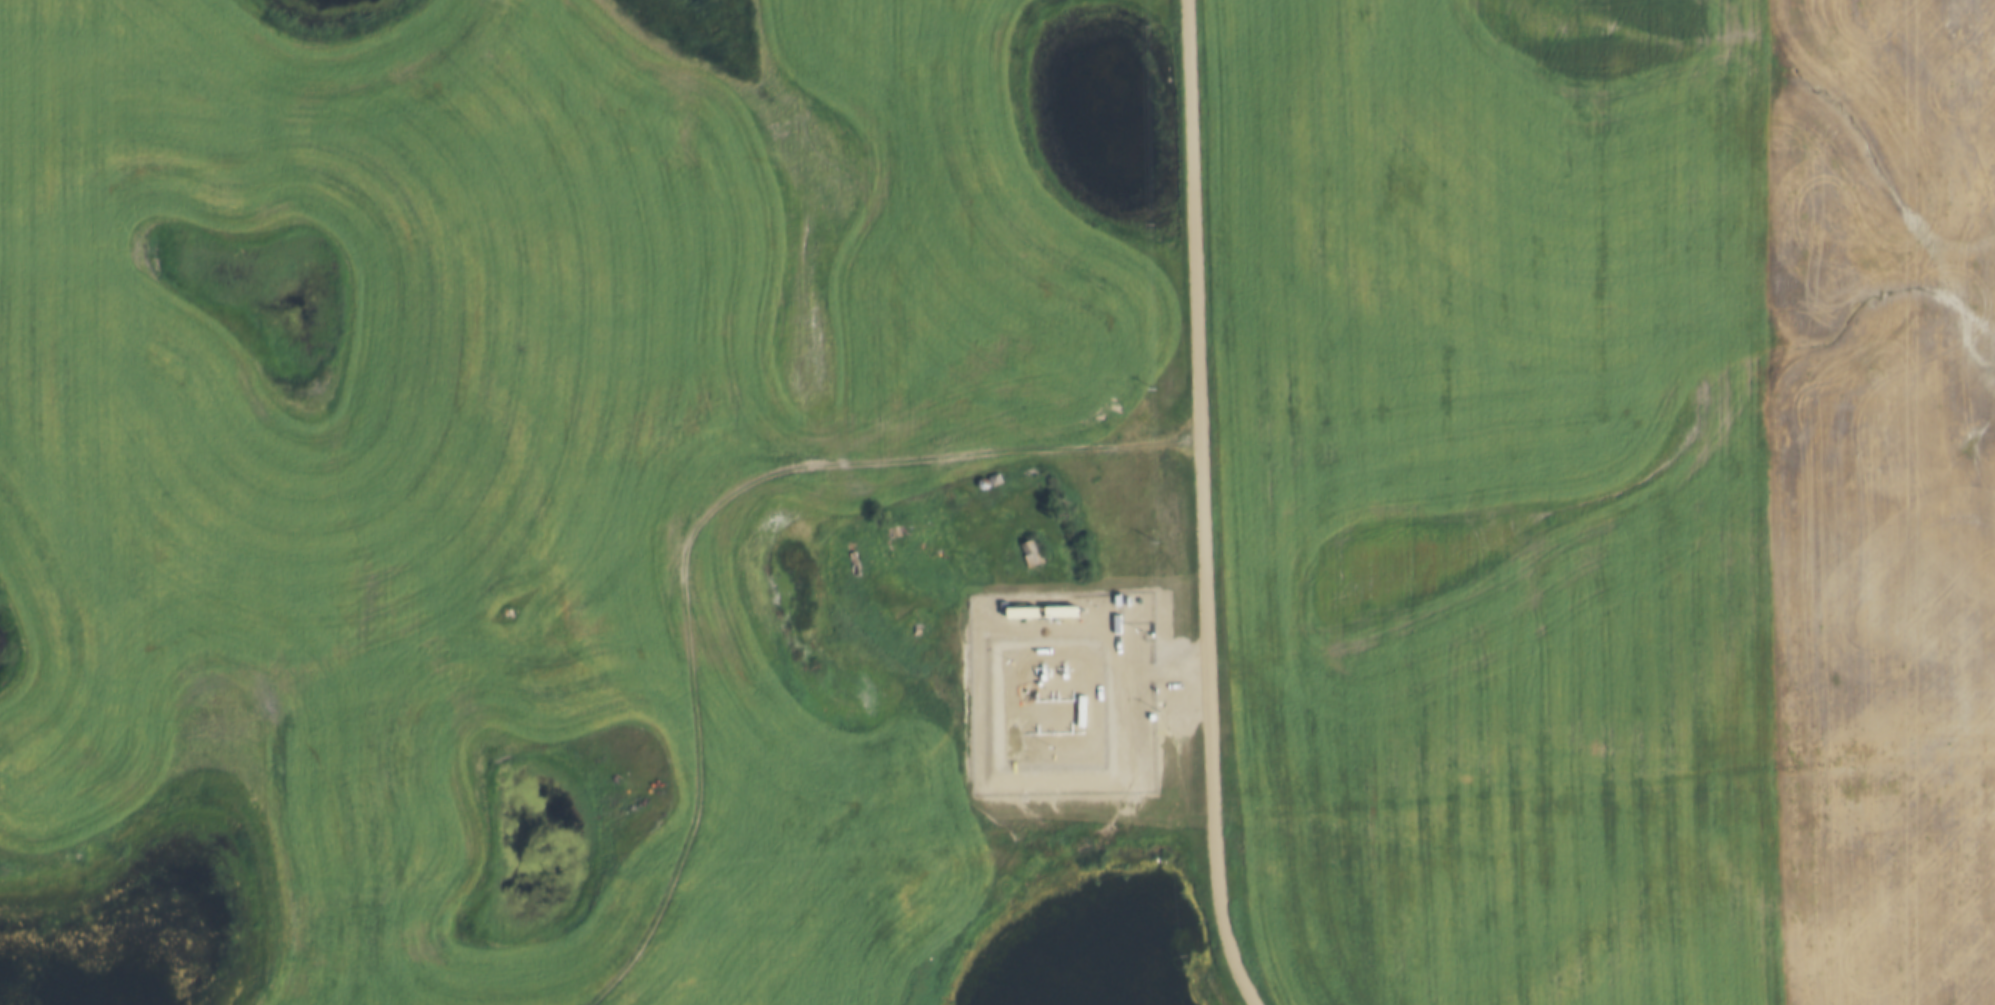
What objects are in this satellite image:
road: (1199, 505)
building: (1033, 552)
building: (1024, 611)
building: (1063, 612)
road: (1181, 663)

